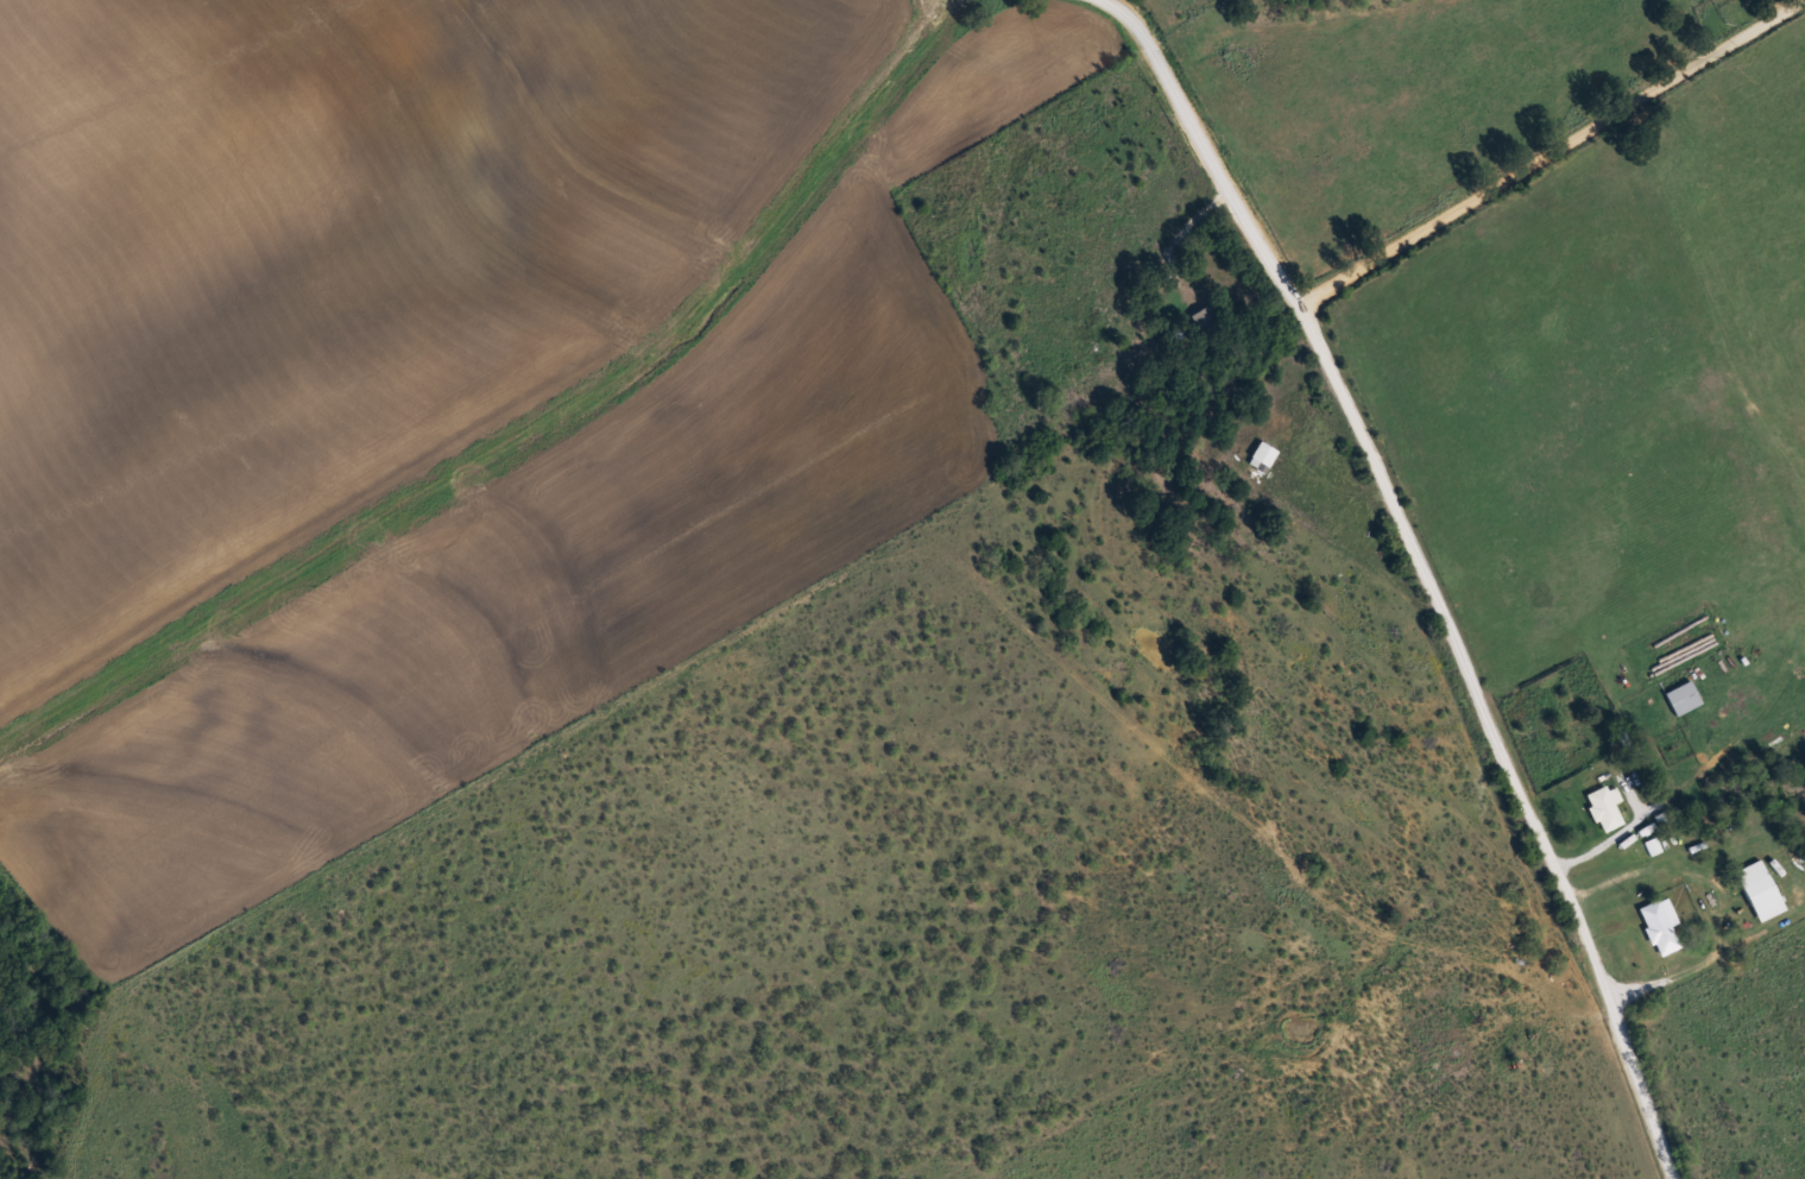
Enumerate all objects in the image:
road: (1541, 147)
building: (1268, 439)
road: (1431, 567)
building: (1678, 696)
building: (1601, 806)
building: (1754, 889)
building: (1655, 923)

